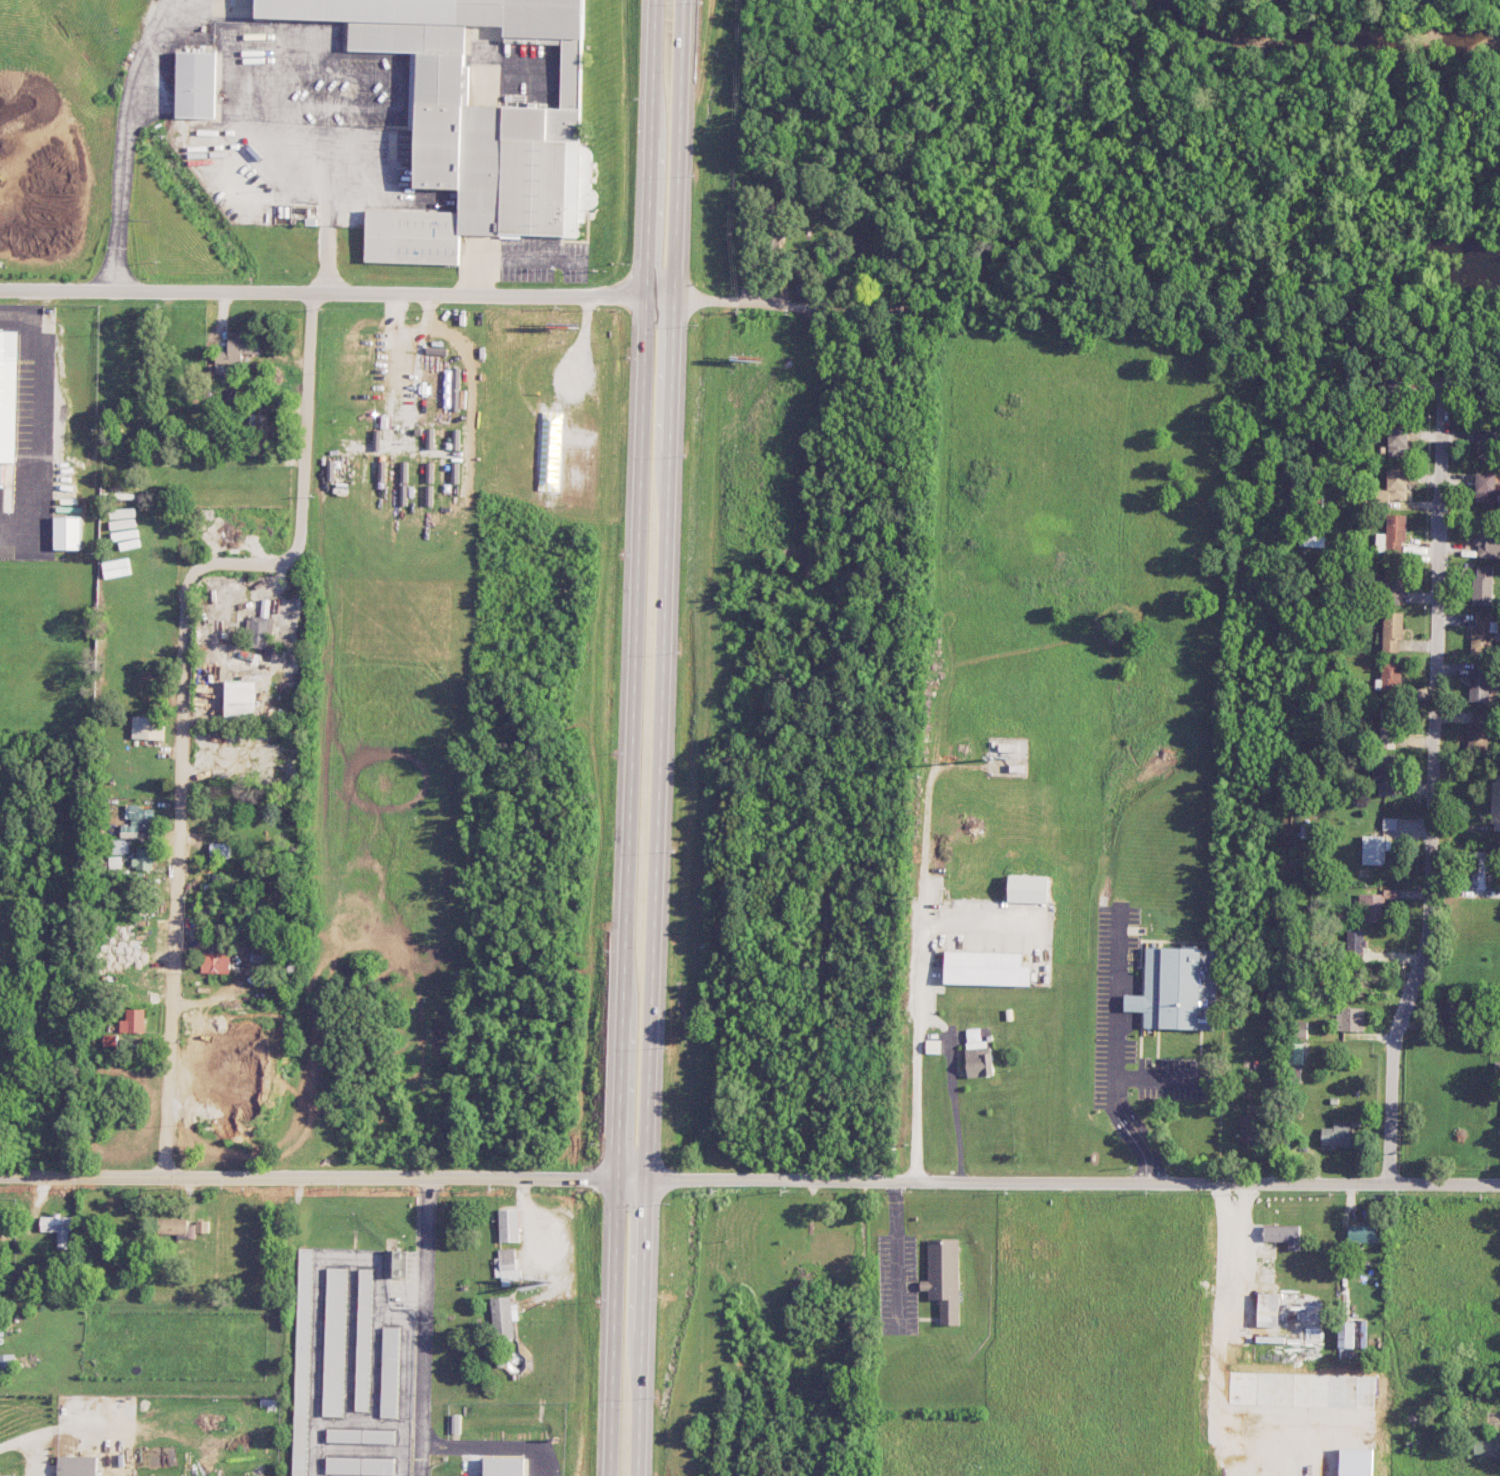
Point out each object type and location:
road: (214, 34)
river: (1327, 37)
building: (194, 84)
road: (860, 107)
building: (471, 123)
road: (1018, 159)
road: (914, 230)
road: (511, 257)
road: (336, 292)
road: (782, 301)
building: (437, 342)
building: (237, 349)
building: (436, 349)
building: (455, 377)
building: (9, 392)
building: (455, 400)
building: (259, 420)
building: (418, 430)
building: (429, 437)
building: (376, 439)
building: (455, 439)
building: (1398, 444)
building: (1394, 486)
building: (1486, 486)
building: (67, 532)
building: (1393, 535)
building: (1313, 541)
building: (1486, 541)
building: (1393, 582)
building: (1483, 585)
building: (1392, 630)
building: (259, 631)
building: (1481, 633)
building: (1392, 680)
building: (1479, 681)
road: (182, 686)
building: (241, 698)
road: (1433, 713)
building: (146, 728)
building: (1478, 729)
road: (659, 737)
road: (632, 738)
building: (1496, 802)
building: (137, 820)
building: (117, 846)
building: (1376, 849)
building: (219, 850)
building: (143, 859)
building: (115, 861)
building: (1477, 869)
building: (1028, 888)
building: (1371, 907)
building: (1355, 943)
building: (215, 962)
building: (987, 968)
building: (1171, 987)
building: (1448, 1007)
building: (1351, 1018)
road: (932, 1020)
building: (133, 1021)
building: (1298, 1029)
building: (1295, 1053)
building: (978, 1054)
road: (1392, 1109)
building: (1248, 1128)
building: (1338, 1133)
road: (309, 1176)
road: (632, 1178)
road: (1073, 1182)
building: (508, 1224)
building: (173, 1226)
building: (202, 1226)
building: (58, 1227)
building: (1362, 1233)
building: (1283, 1234)
building: (394, 1263)
building: (506, 1265)
building: (944, 1277)
building: (1268, 1309)
building: (503, 1316)
road: (424, 1326)
building: (1, 1330)
building: (1345, 1334)
building: (363, 1338)
building: (334, 1341)
building: (7, 1362)
building: (301, 1362)
building: (389, 1370)
building: (455, 1422)
building: (360, 1435)
building: (1488, 1446)
building: (77, 1465)
building: (359, 1465)
building: (502, 1466)

